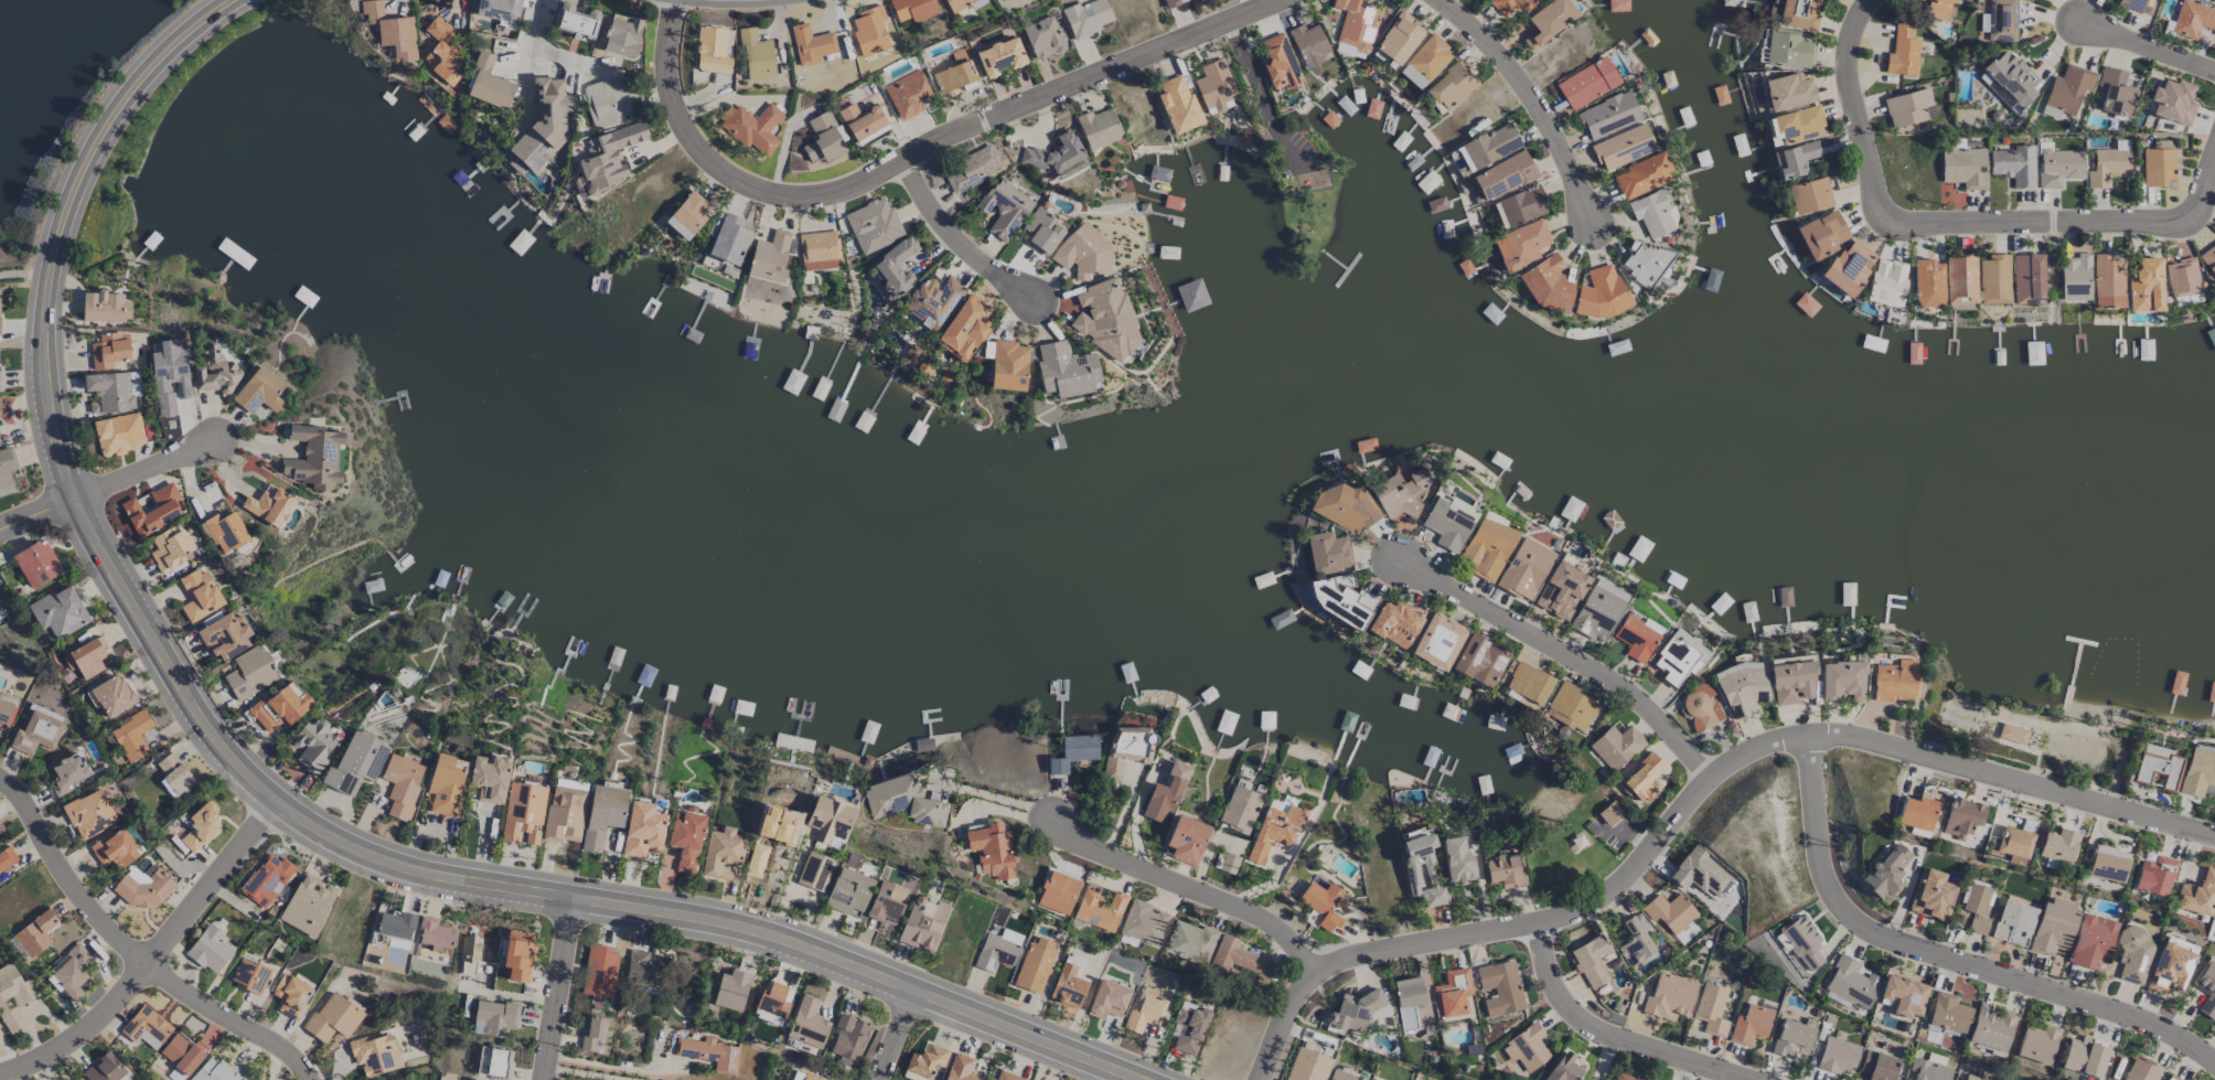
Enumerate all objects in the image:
building: (1169, 2)
building: (955, 3)
building: (1509, 6)
building: (2137, 6)
building: (497, 9)
building: (912, 9)
building: (1939, 9)
building: (1797, 13)
building: (1087, 17)
building: (2192, 19)
building: (1548, 20)
building: (574, 21)
building: (1999, 21)
building: (1355, 23)
building: (390, 30)
building: (868, 31)
building: (621, 36)
road: (193, 38)
building: (1398, 38)
building: (1040, 39)
building: (811, 44)
building: (1308, 44)
road: (536, 46)
building: (713, 50)
building: (1785, 50)
road: (2149, 50)
building: (1902, 52)
building: (756, 55)
building: (959, 55)
building: (998, 56)
building: (441, 58)
building: (1424, 62)
building: (1278, 63)
building: (954, 77)
building: (2008, 81)
building: (488, 83)
building: (1585, 83)
building: (1213, 86)
building: (1451, 86)
building: (2067, 88)
building: (1786, 92)
building: (907, 94)
building: (2115, 94)
road: (1258, 96)
road: (1529, 96)
building: (604, 101)
building: (2172, 101)
building: (1177, 104)
building: (1907, 107)
building: (2048, 111)
building: (1606, 115)
building: (860, 121)
building: (543, 124)
building: (1797, 125)
building: (751, 127)
building: (1098, 128)
building: (822, 139)
building: (1487, 147)
building: (1622, 147)
building: (1053, 153)
road: (911, 154)
building: (608, 157)
building: (1793, 159)
park: (1293, 162)
building: (516, 165)
building: (2014, 165)
building: (2057, 165)
building: (2107, 167)
building: (2158, 167)
building: (1963, 168)
building: (970, 170)
building: (1502, 175)
building: (1640, 177)
road: (2206, 190)
building: (1809, 195)
building: (1521, 205)
building: (1003, 210)
building: (1651, 213)
building: (686, 217)
road: (1926, 217)
building: (873, 225)
building: (1041, 232)
building: (1820, 234)
road: (954, 236)
building: (728, 239)
building: (1520, 245)
building: (818, 250)
building: (1081, 253)
building: (769, 258)
building: (2208, 261)
building: (1644, 263)
building: (892, 266)
building: (1847, 267)
road: (25, 274)
building: (2182, 277)
building: (2075, 278)
building: (1959, 279)
building: (1993, 279)
building: (2027, 279)
building: (2108, 281)
building: (1885, 282)
building: (1549, 284)
building: (1926, 284)
building: (2144, 285)
building: (1599, 293)
building: (932, 301)
building: (104, 307)
building: (1104, 319)
building: (963, 329)
building: (109, 350)
building: (909, 356)
building: (1008, 366)
building: (212, 368)
building: (1064, 370)
building: (170, 374)
building: (133, 383)
building: (0, 386)
building: (258, 391)
building: (109, 392)
building: (118, 434)
building: (313, 457)
building: (6, 470)
road: (107, 484)
building: (1399, 493)
building: (268, 506)
building: (1345, 509)
building: (152, 510)
building: (1448, 522)
building: (225, 532)
building: (1487, 548)
building: (170, 549)
building: (1327, 553)
building: (36, 564)
building: (1524, 569)
building: (1342, 581)
building: (1560, 590)
building: (199, 596)
building: (1, 602)
building: (1342, 602)
building: (1597, 610)
building: (58, 612)
building: (1394, 623)
building: (223, 635)
building: (1635, 638)
building: (1436, 641)
pier: (2077, 641)
road: (1562, 648)
building: (86, 657)
building: (1678, 657)
building: (1479, 661)
building: (249, 673)
pier: (2069, 674)
building: (1841, 680)
building: (1893, 681)
building: (1790, 682)
building: (1528, 683)
building: (1742, 688)
building: (110, 696)
building: (279, 707)
building: (1570, 707)
building: (1700, 708)
building: (4, 713)
park: (1958, 713)
park: (2033, 721)
building: (35, 734)
building: (2012, 734)
building: (131, 736)
building: (312, 745)
park: (2074, 745)
building: (1615, 746)
building: (1125, 749)
building: (1072, 752)
building: (354, 763)
building: (2157, 766)
building: (2197, 772)
building: (67, 773)
building: (174, 776)
building: (488, 778)
building: (1642, 778)
building: (400, 784)
building: (443, 785)
building: (1165, 793)
road: (1689, 794)
road: (989, 795)
building: (903, 801)
building: (1240, 810)
building: (565, 811)
building: (88, 813)
building: (522, 813)
building: (1609, 813)
building: (1916, 813)
building: (601, 815)
building: (1961, 817)
road: (319, 821)
building: (200, 826)
building: (1275, 826)
building: (642, 831)
park: (1569, 833)
building: (684, 840)
building: (1186, 840)
building: (2058, 845)
building: (114, 848)
building: (720, 851)
building: (991, 851)
building: (6, 857)
building: (1455, 860)
building: (1229, 863)
building: (2107, 864)
building: (1421, 870)
building: (813, 872)
building: (1505, 872)
building: (1884, 872)
building: (1699, 873)
building: (2154, 876)
building: (266, 880)
building: (141, 888)
road: (1185, 888)
building: (847, 892)
building: (1057, 892)
building: (1930, 895)
building: (2197, 895)
building: (884, 901)
building: (307, 905)
building: (1320, 906)
building: (1976, 908)
building: (1670, 913)
building: (2214, 919)
building: (922, 922)
building: (1143, 922)
building: (2013, 922)
building: (395, 924)
building: (2053, 926)
building: (34, 933)
building: (434, 933)
building: (1634, 940)
building: (2090, 941)
building: (1190, 942)
building: (1801, 942)
road: (135, 948)
building: (470, 949)
building: (208, 950)
building: (997, 950)
road: (154, 953)
building: (517, 955)
road: (1947, 955)
building: (2131, 955)
building: (1238, 958)
building: (1590, 960)
building: (1035, 965)
building: (2170, 965)
building: (643, 969)
building: (598, 971)
building: (73, 972)
building: (249, 975)
building: (1068, 982)
building: (1850, 982)
road: (557, 987)
building: (1500, 987)
building: (730, 990)
building: (1452, 993)
building: (291, 995)
building: (1669, 995)
building: (1903, 995)
building: (13, 997)
building: (1106, 999)
building: (1408, 1002)
building: (772, 1004)
building: (1145, 1009)
building: (1710, 1009)
building: (1351, 1011)
building: (1948, 1013)
building: (494, 1017)
building: (332, 1018)
building: (807, 1023)
building: (1749, 1025)
building: (145, 1027)
building: (1189, 1027)
building: (1990, 1028)
building: (592, 1034)
road: (891, 1034)
road: (1604, 1036)
building: (847, 1037)
building: (1793, 1039)
building: (2036, 1042)
building: (1524, 1048)
building: (182, 1052)
building: (374, 1054)
building: (708, 1054)
building: (1837, 1055)
building: (2084, 1057)
building: (925, 1060)
road: (4, 1061)
building: (493, 1062)
road: (1050, 1063)
road: (614, 1066)
building: (1307, 1066)
building: (1877, 1066)
building: (1564, 1068)
building: (104, 1069)
building: (960, 1069)
building: (1927, 1070)
building: (2140, 1070)
building: (215, 1071)
road: (586, 1073)
building: (800, 1076)
building: (1006, 1076)
building: (1342, 1076)
building: (1623, 1077)
building: (1970, 1078)
building: (2171, 1078)
building: (79, 1079)
building: (245, 1079)
building: (473, 1079)
building: (989, 1079)

